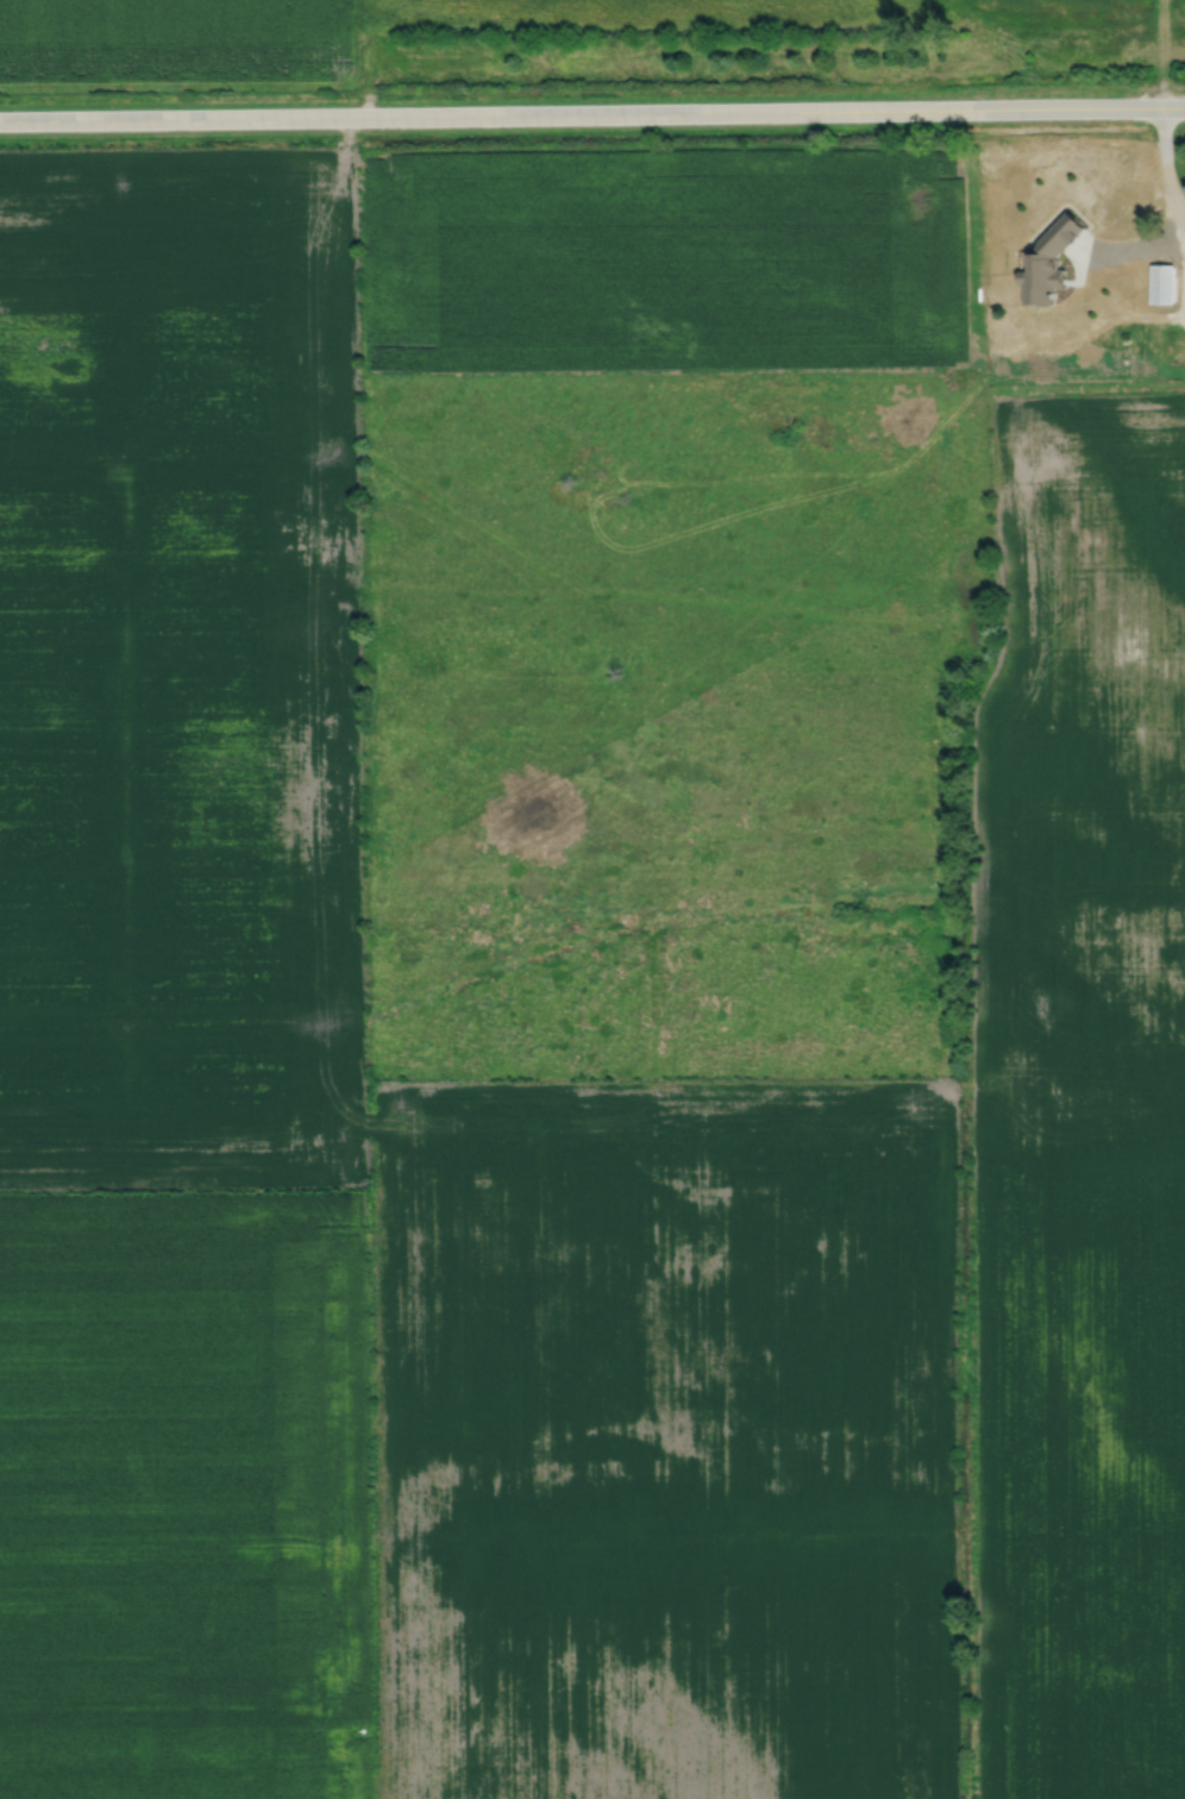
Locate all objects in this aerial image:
crop: (325, 30)
road: (592, 113)
road: (1167, 171)
road: (1183, 219)
building: (1139, 245)
building: (1049, 261)
building: (1164, 284)
road: (1120, 309)
crop: (181, 675)
crop: (1074, 1120)
crop: (662, 1437)
crop: (183, 1460)
crop: (186, 1762)

